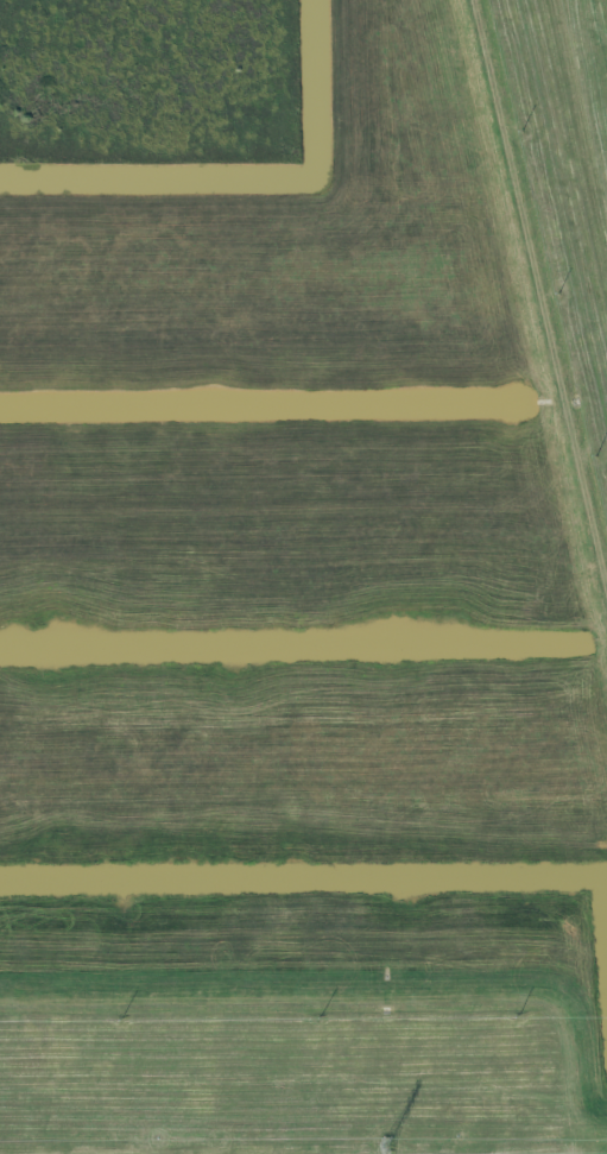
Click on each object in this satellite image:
power tower: (380, 1144)

